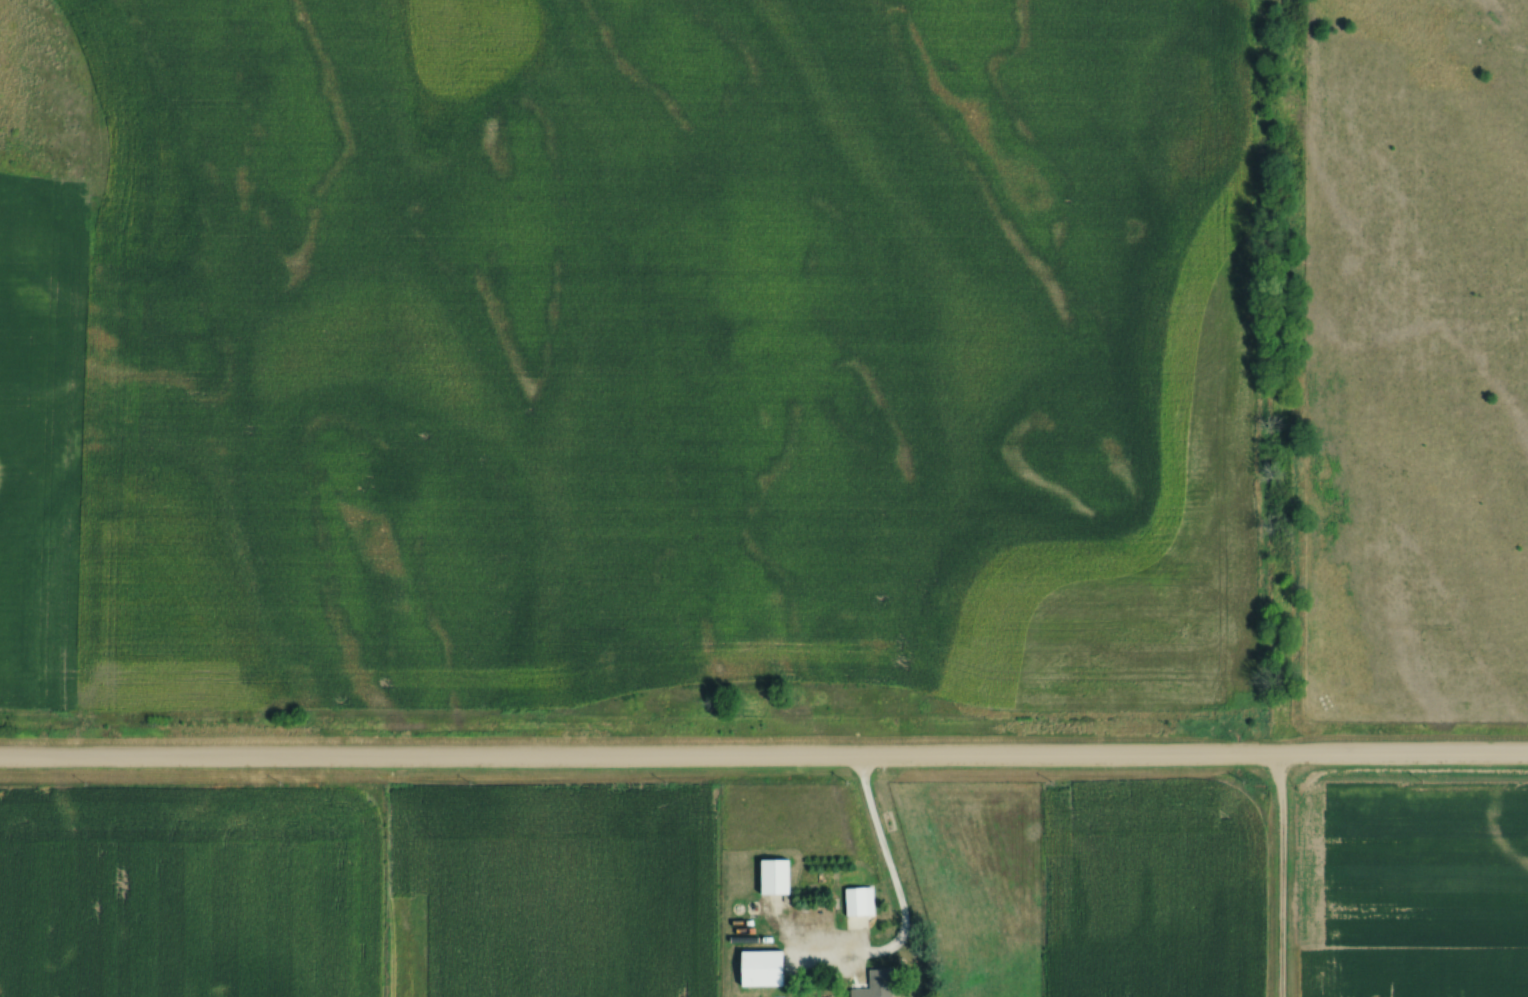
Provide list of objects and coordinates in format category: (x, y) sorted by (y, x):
road: (763, 760)
building: (776, 875)
road: (1281, 878)
road: (894, 886)
building: (851, 920)
building: (763, 967)
building: (872, 982)

